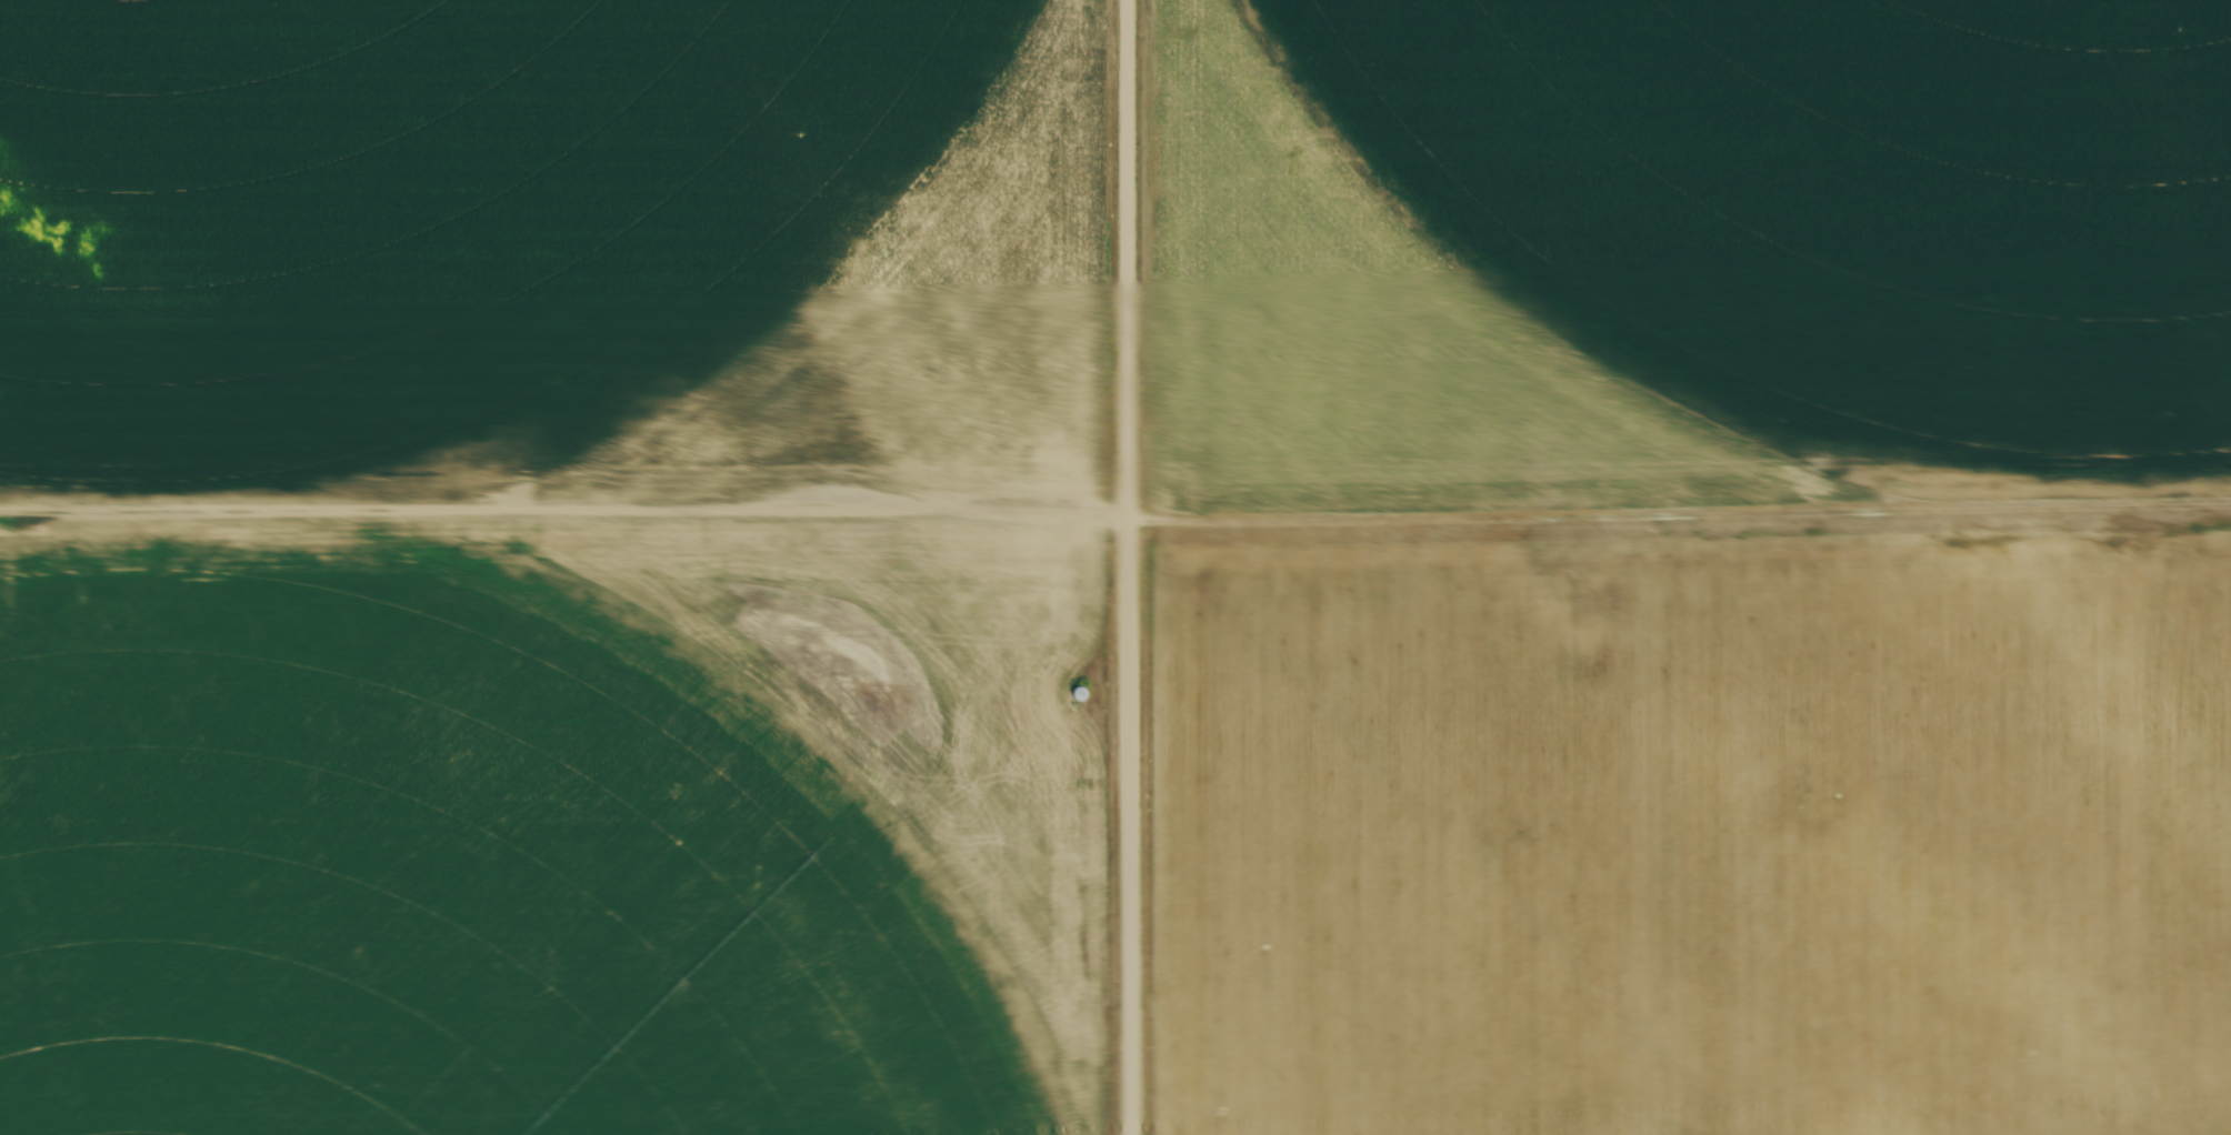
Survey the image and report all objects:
crop: (551, 247)
road: (1130, 259)
road: (564, 504)
building: (1077, 695)
silo: (1077, 695)
crop: (548, 826)
road: (1130, 826)
crop: (1693, 836)

